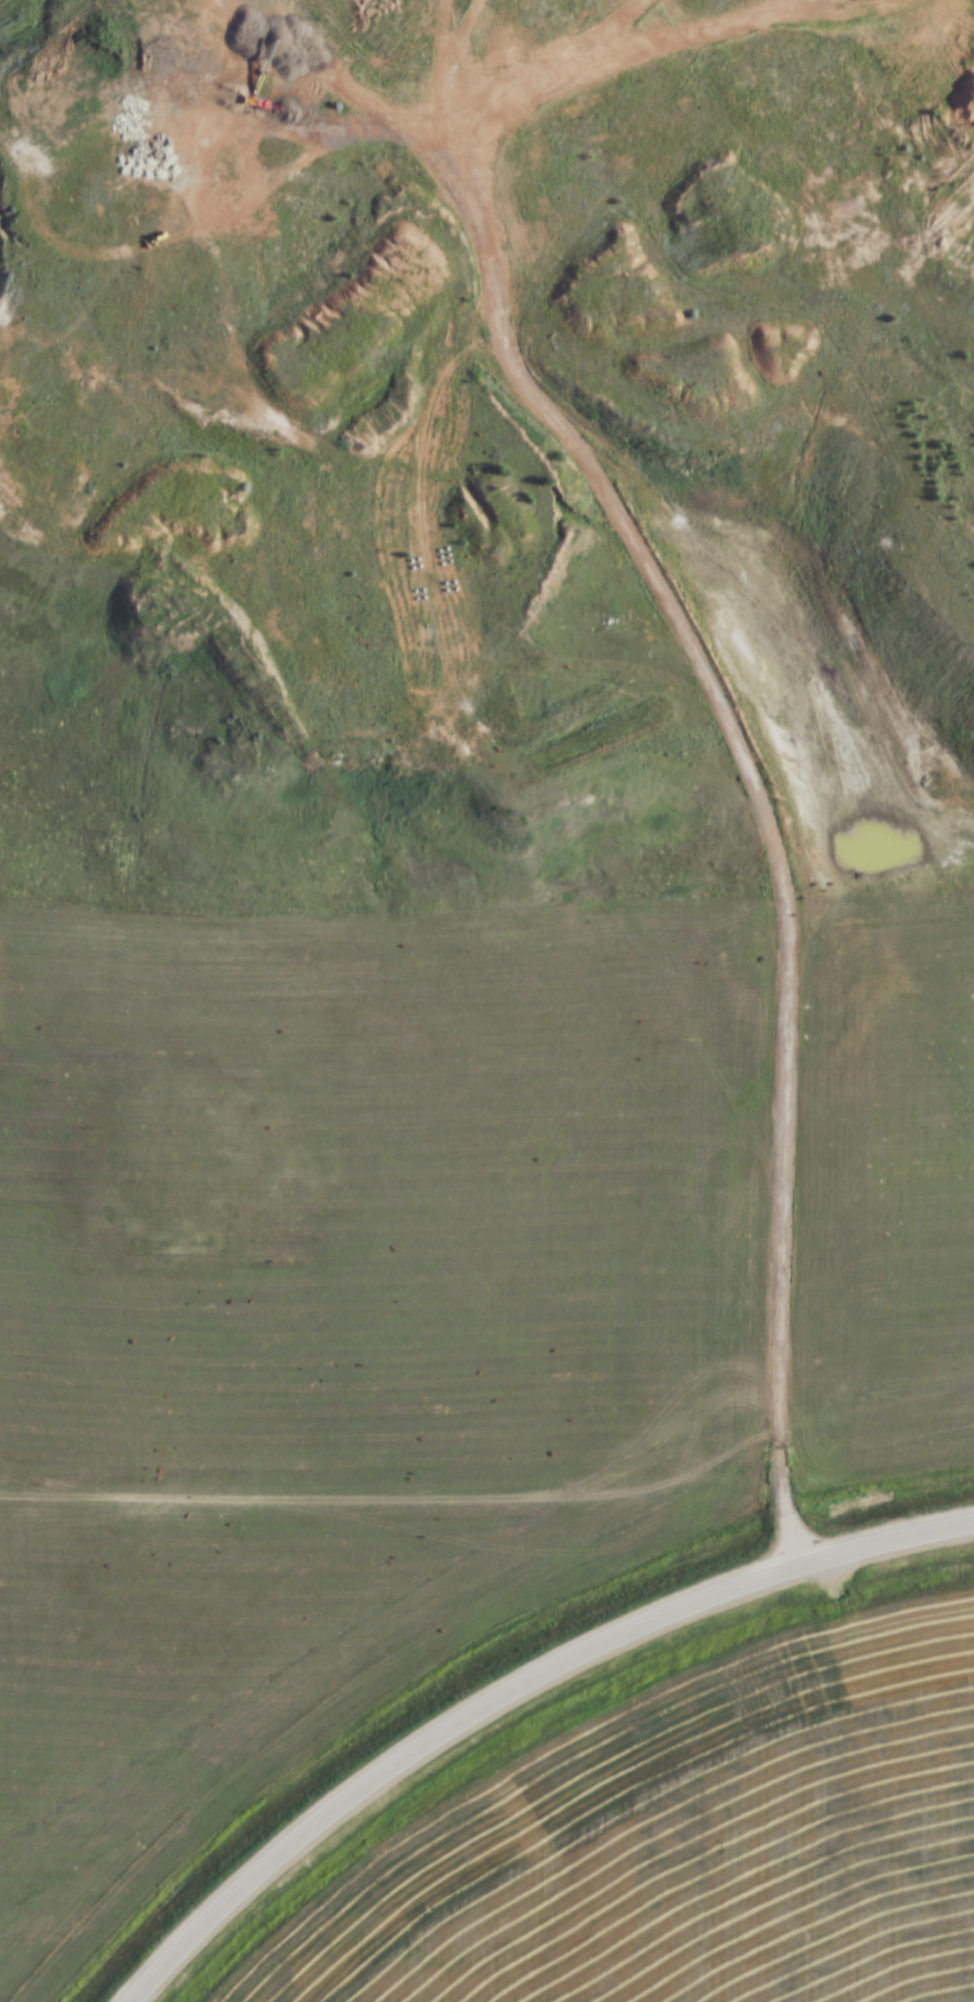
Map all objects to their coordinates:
quarry: (461, 292)
road: (496, 589)
road: (421, 1504)
road: (511, 1691)

